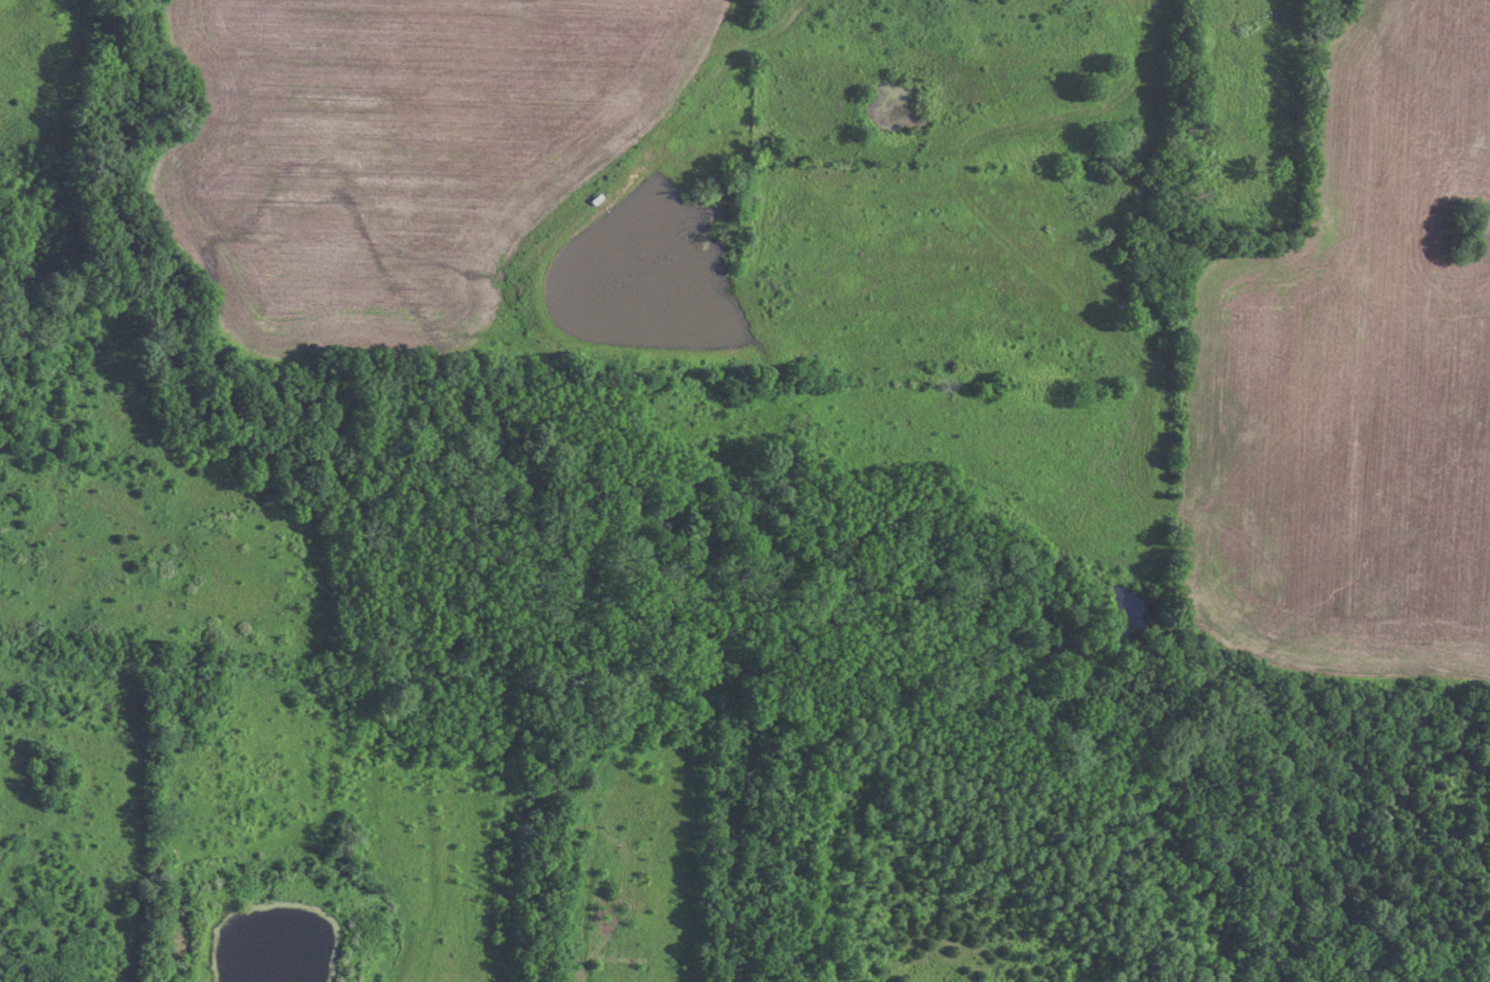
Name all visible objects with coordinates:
road: (1200, 24)

